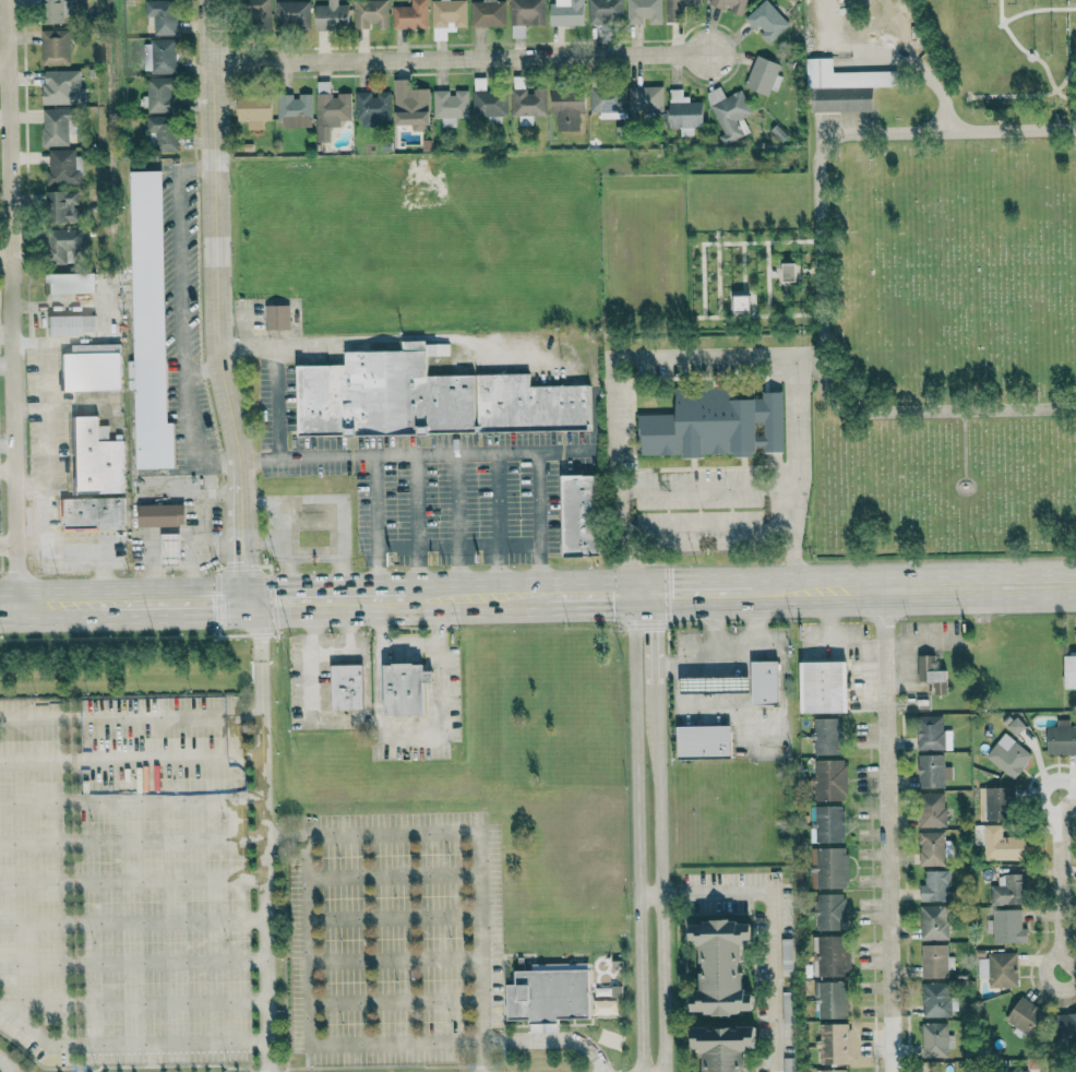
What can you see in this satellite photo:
building: (728, 5)
building: (678, 9)
building: (49, 10)
building: (605, 11)
building: (644, 11)
building: (566, 12)
building: (258, 13)
building: (487, 13)
building: (291, 14)
building: (370, 14)
building: (162, 15)
building: (331, 15)
building: (409, 15)
building: (524, 15)
building: (446, 17)
building: (766, 22)
building: (55, 47)
building: (160, 56)
road: (462, 58)
road: (3, 67)
building: (762, 75)
building: (844, 75)
building: (59, 86)
building: (159, 94)
building: (645, 99)
building: (488, 100)
building: (841, 100)
building: (606, 102)
building: (528, 104)
building: (372, 106)
building: (410, 106)
building: (450, 106)
building: (566, 108)
building: (294, 110)
building: (253, 111)
building: (330, 111)
building: (683, 112)
building: (728, 114)
building: (57, 126)
building: (160, 132)
road: (835, 138)
building: (63, 167)
building: (61, 206)
road: (4, 255)
building: (787, 272)
park: (943, 272)
road: (179, 273)
building: (69, 283)
road: (216, 300)
road: (10, 302)
building: (740, 302)
road: (31, 315)
building: (276, 318)
building: (148, 323)
building: (70, 324)
road: (45, 358)
road: (704, 358)
building: (89, 370)
road: (274, 374)
building: (427, 397)
road: (922, 413)
building: (714, 425)
road: (192, 434)
road: (45, 442)
road: (528, 451)
road: (375, 455)
building: (95, 457)
road: (8, 474)
road: (706, 487)
road: (336, 503)
building: (92, 514)
building: (160, 515)
building: (581, 515)
road: (498, 523)
road: (417, 524)
road: (457, 524)
road: (43, 526)
road: (707, 529)
road: (282, 546)
road: (99, 548)
building: (169, 549)
road: (9, 551)
road: (313, 559)
road: (284, 573)
road: (913, 586)
road: (705, 591)
road: (648, 592)
traffic signals: (660, 592)
traffic signals: (637, 593)
road: (319, 599)
traffic signals: (241, 600)
road: (713, 626)
road: (660, 636)
road: (922, 642)
road: (408, 646)
road: (328, 648)
road: (734, 659)
building: (1069, 672)
building: (931, 674)
building: (763, 682)
building: (345, 688)
building: (823, 688)
building: (403, 689)
road: (130, 716)
road: (345, 718)
building: (1015, 726)
road: (408, 730)
building: (930, 731)
building: (825, 736)
building: (1061, 738)
building: (703, 741)
building: (1007, 754)
road: (131, 759)
building: (930, 770)
building: (829, 778)
road: (662, 786)
road: (131, 799)
building: (997, 803)
building: (931, 809)
road: (1061, 811)
building: (827, 823)
road: (887, 830)
road: (263, 832)
road: (641, 832)
road: (131, 841)
road: (482, 842)
building: (1001, 844)
building: (931, 848)
building: (828, 867)
parking lot: (123, 880)
road: (132, 881)
building: (934, 885)
road: (654, 890)
road: (672, 890)
building: (1007, 890)
building: (829, 910)
road: (1065, 910)
road: (132, 921)
building: (933, 921)
building: (1006, 926)
road: (772, 939)
parking lot: (394, 940)
building: (830, 955)
building: (934, 961)
road: (133, 962)
building: (721, 965)
building: (997, 968)
road: (665, 980)
building: (548, 994)
building: (830, 999)
building: (935, 999)
road: (133, 1001)
building: (605, 1007)
building: (1026, 1016)
road: (308, 1021)
building: (1066, 1026)
road: (552, 1038)
building: (936, 1039)
building: (836, 1043)
road: (128, 1044)
building: (725, 1046)
building: (788, 1064)
road: (5, 1067)
building: (1029, 1067)
building: (832, 1070)

